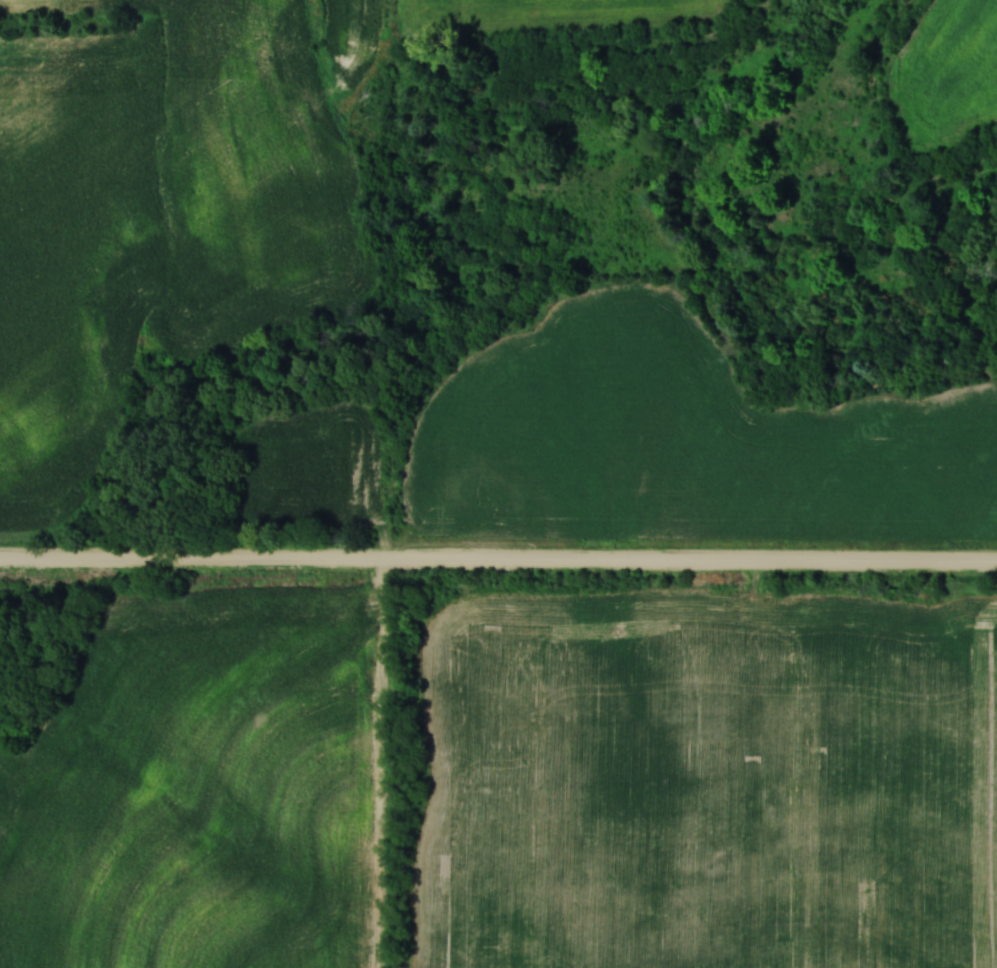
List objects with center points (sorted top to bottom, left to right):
road: (498, 563)

